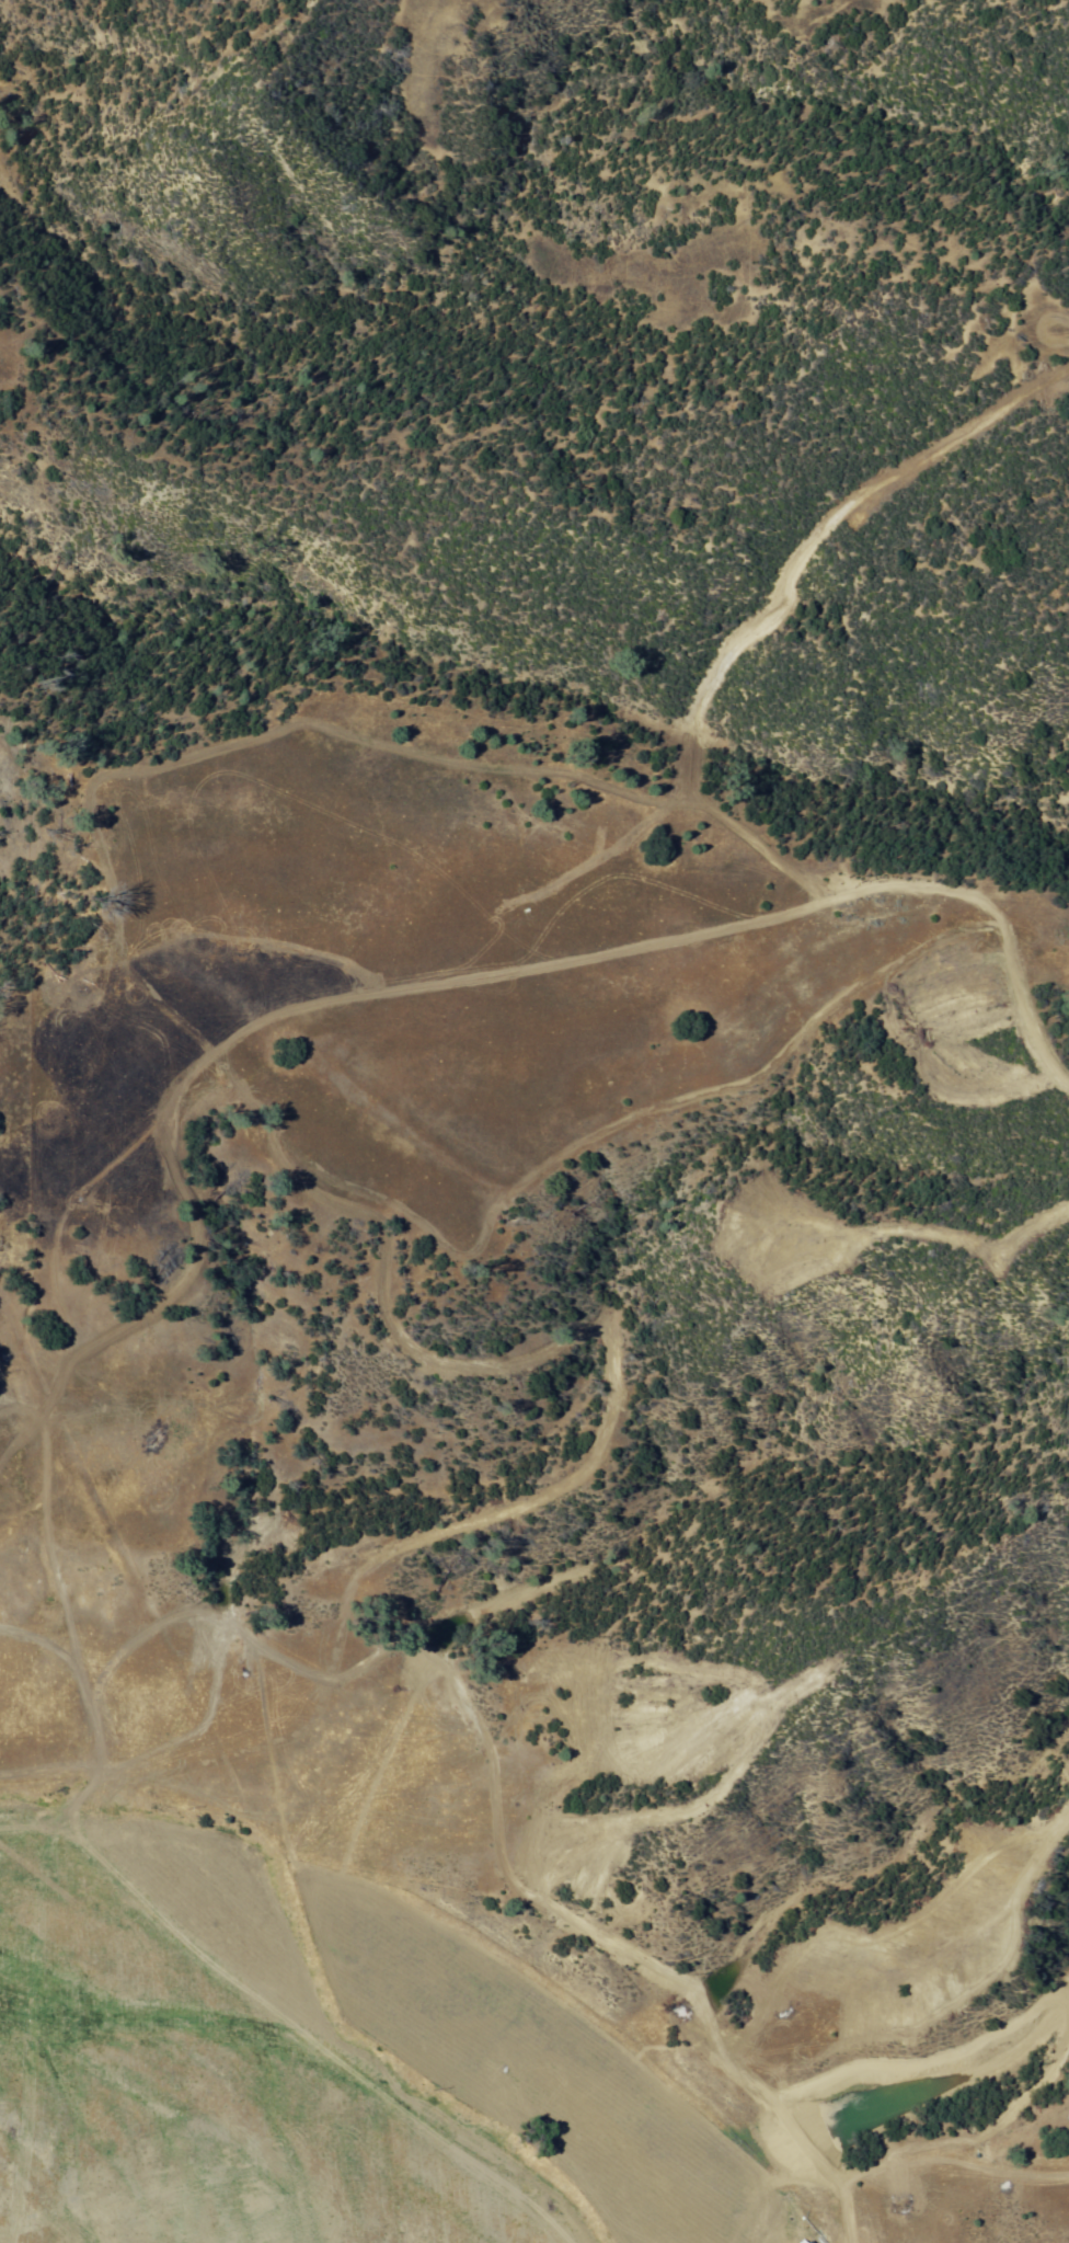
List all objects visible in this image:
building: (807, 2231)

